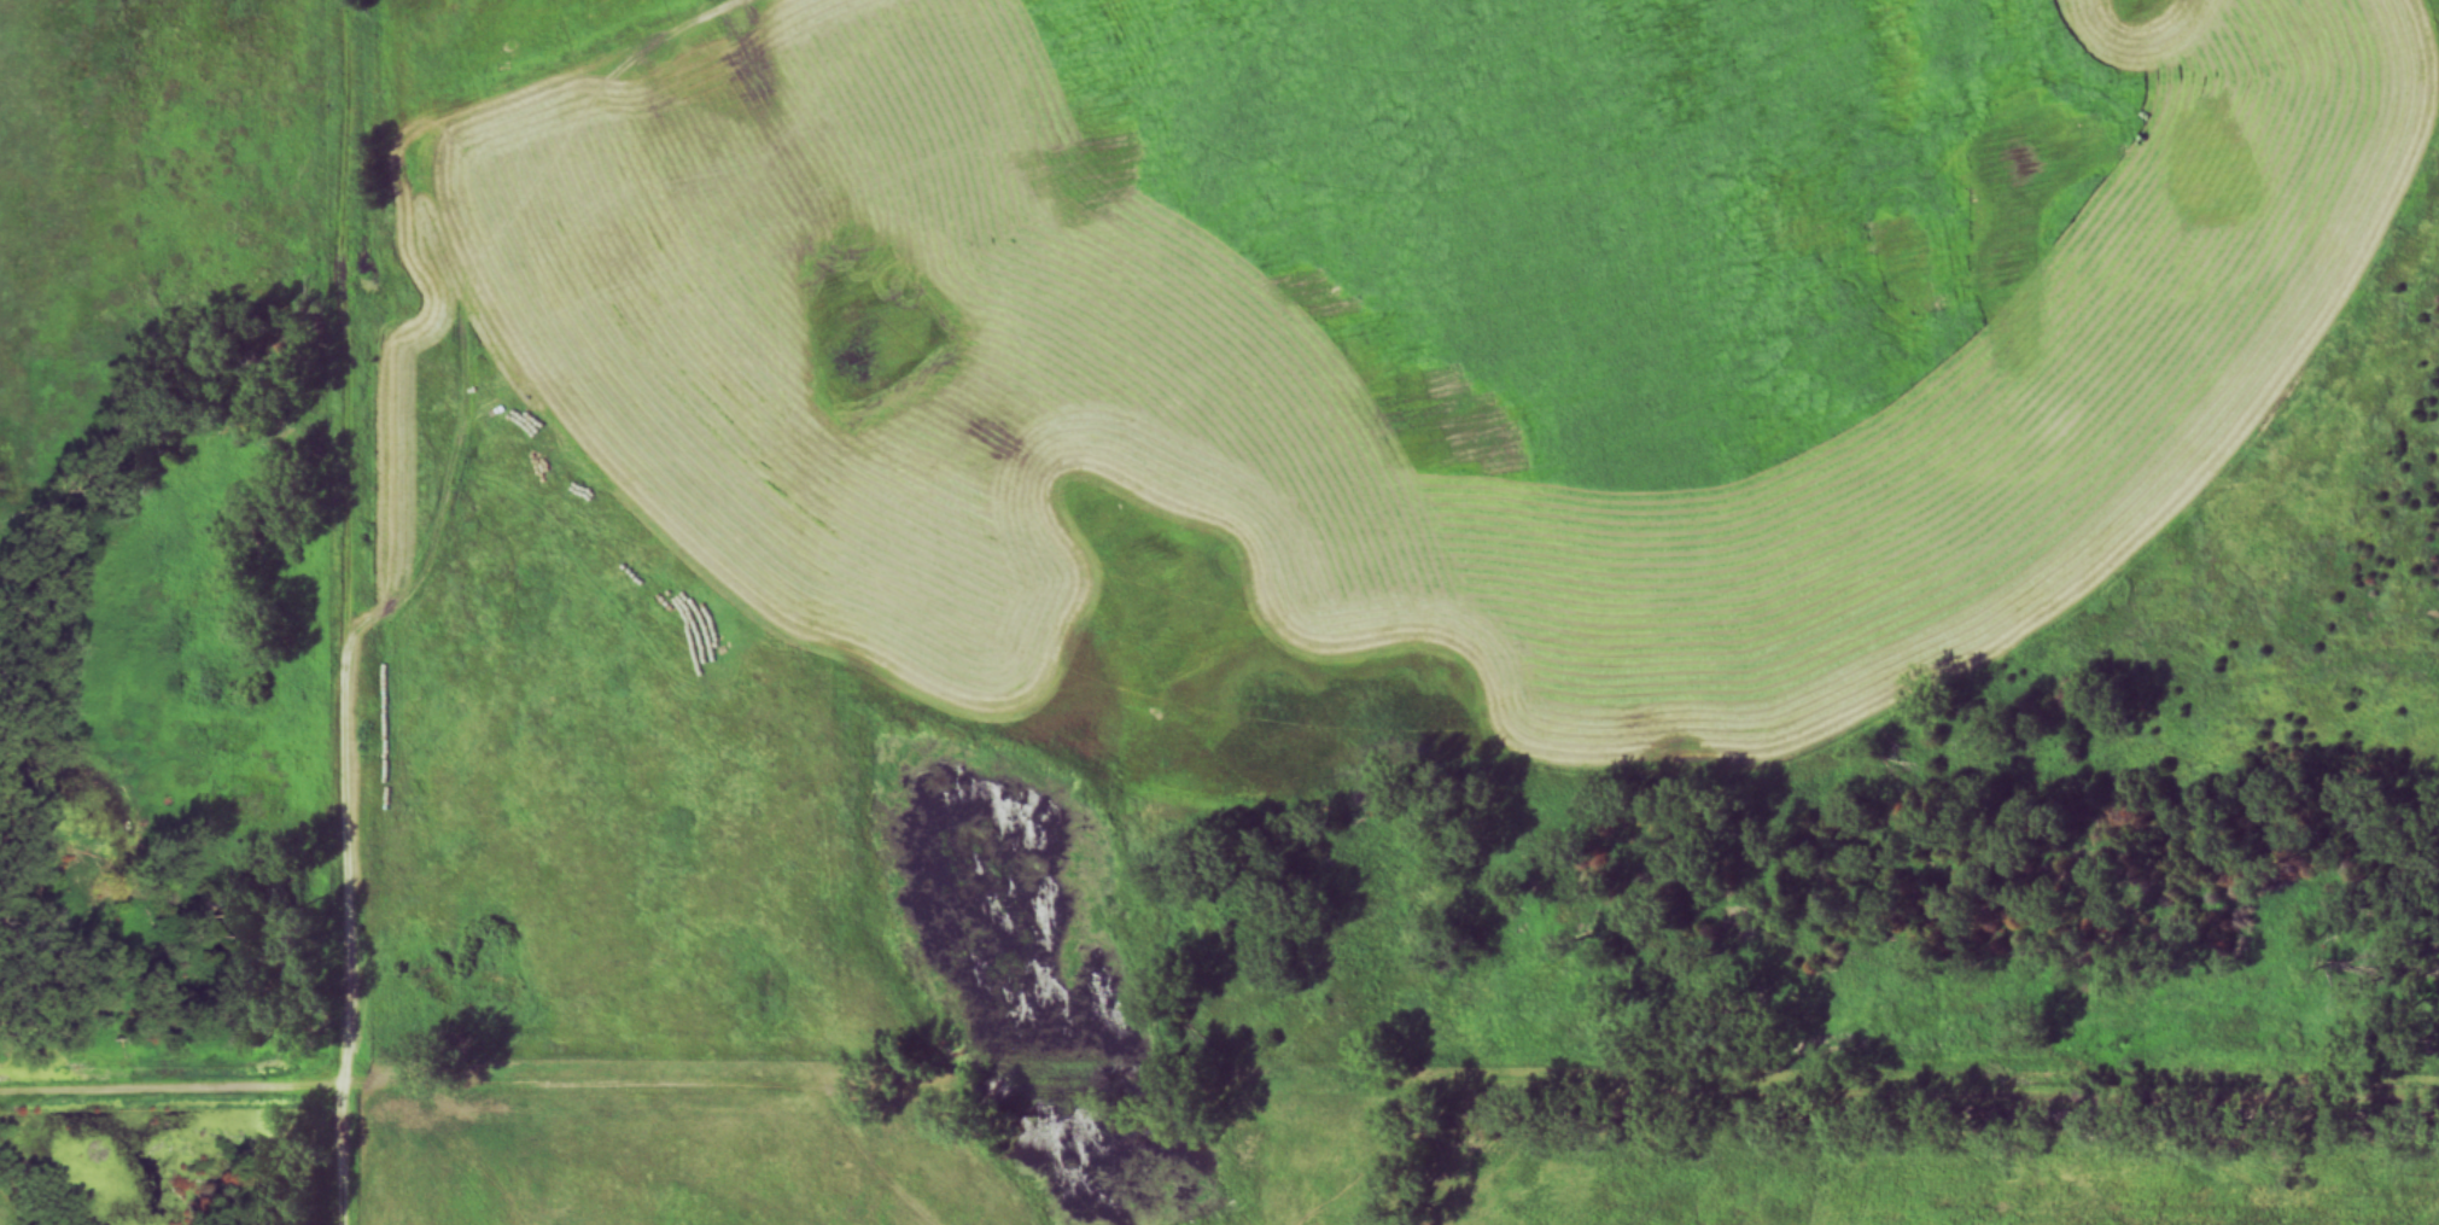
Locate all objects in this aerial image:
road: (343, 612)
road: (1219, 1097)

